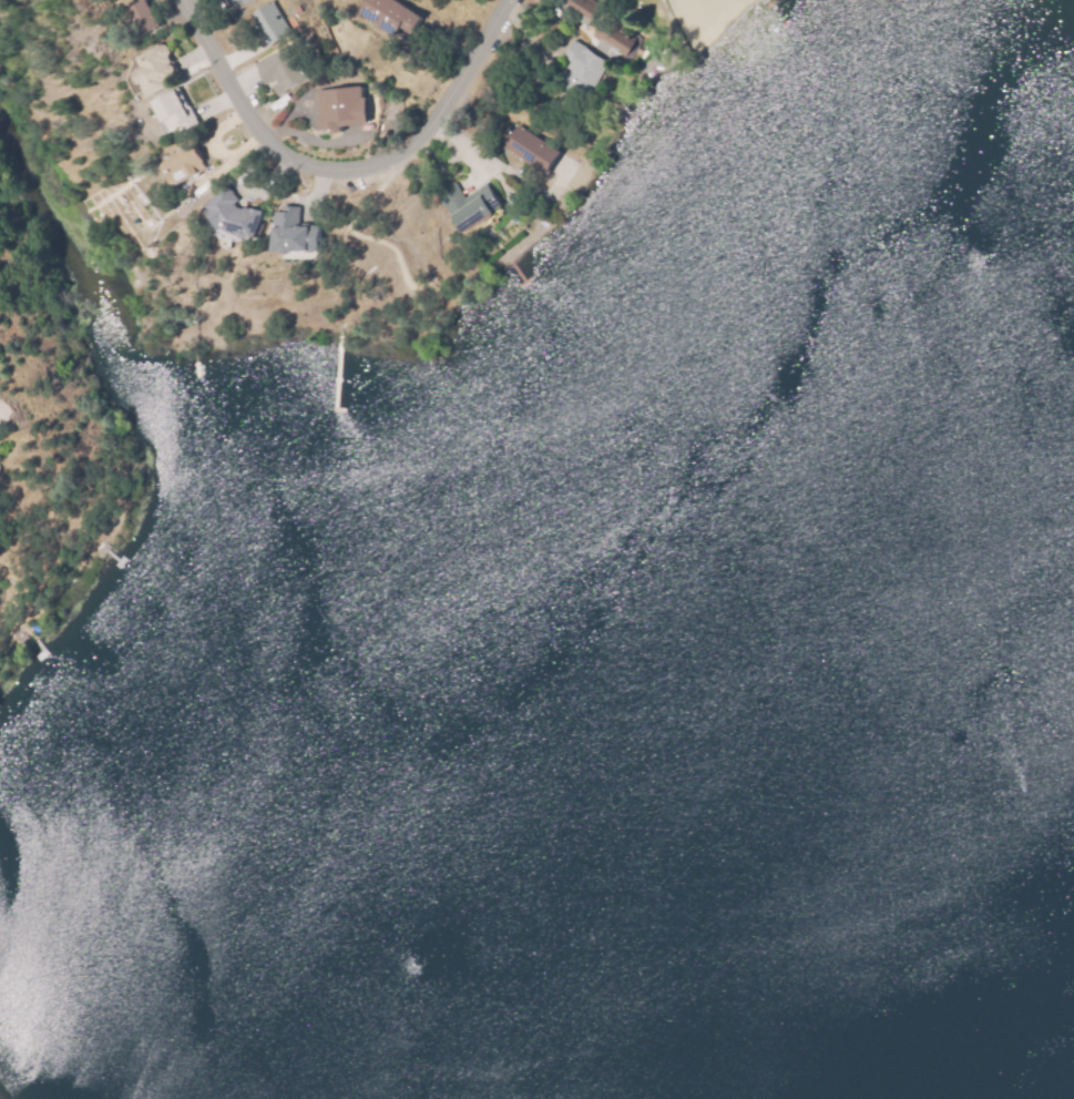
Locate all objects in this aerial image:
building: (231, 1)
building: (391, 16)
building: (140, 18)
building: (269, 22)
building: (613, 38)
building: (582, 65)
building: (279, 68)
building: (153, 70)
building: (338, 106)
building: (173, 111)
building: (531, 149)
building: (185, 162)
road: (356, 172)
building: (467, 203)
building: (229, 216)
building: (290, 231)
pier: (335, 374)

